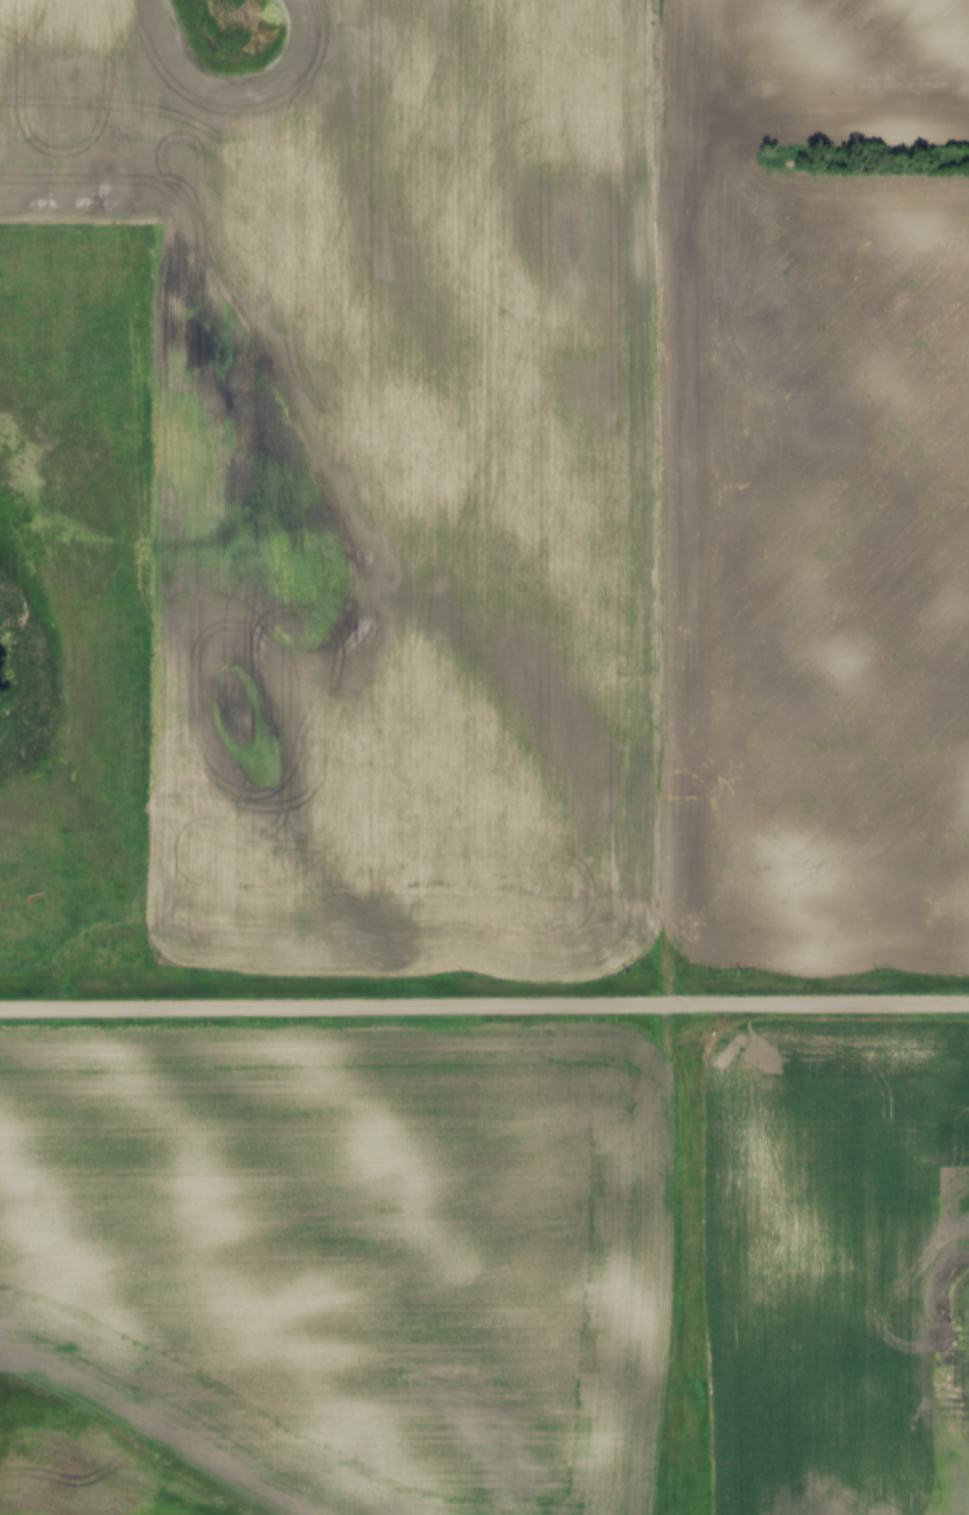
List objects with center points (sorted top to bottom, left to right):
road: (664, 757)
road: (484, 1003)

